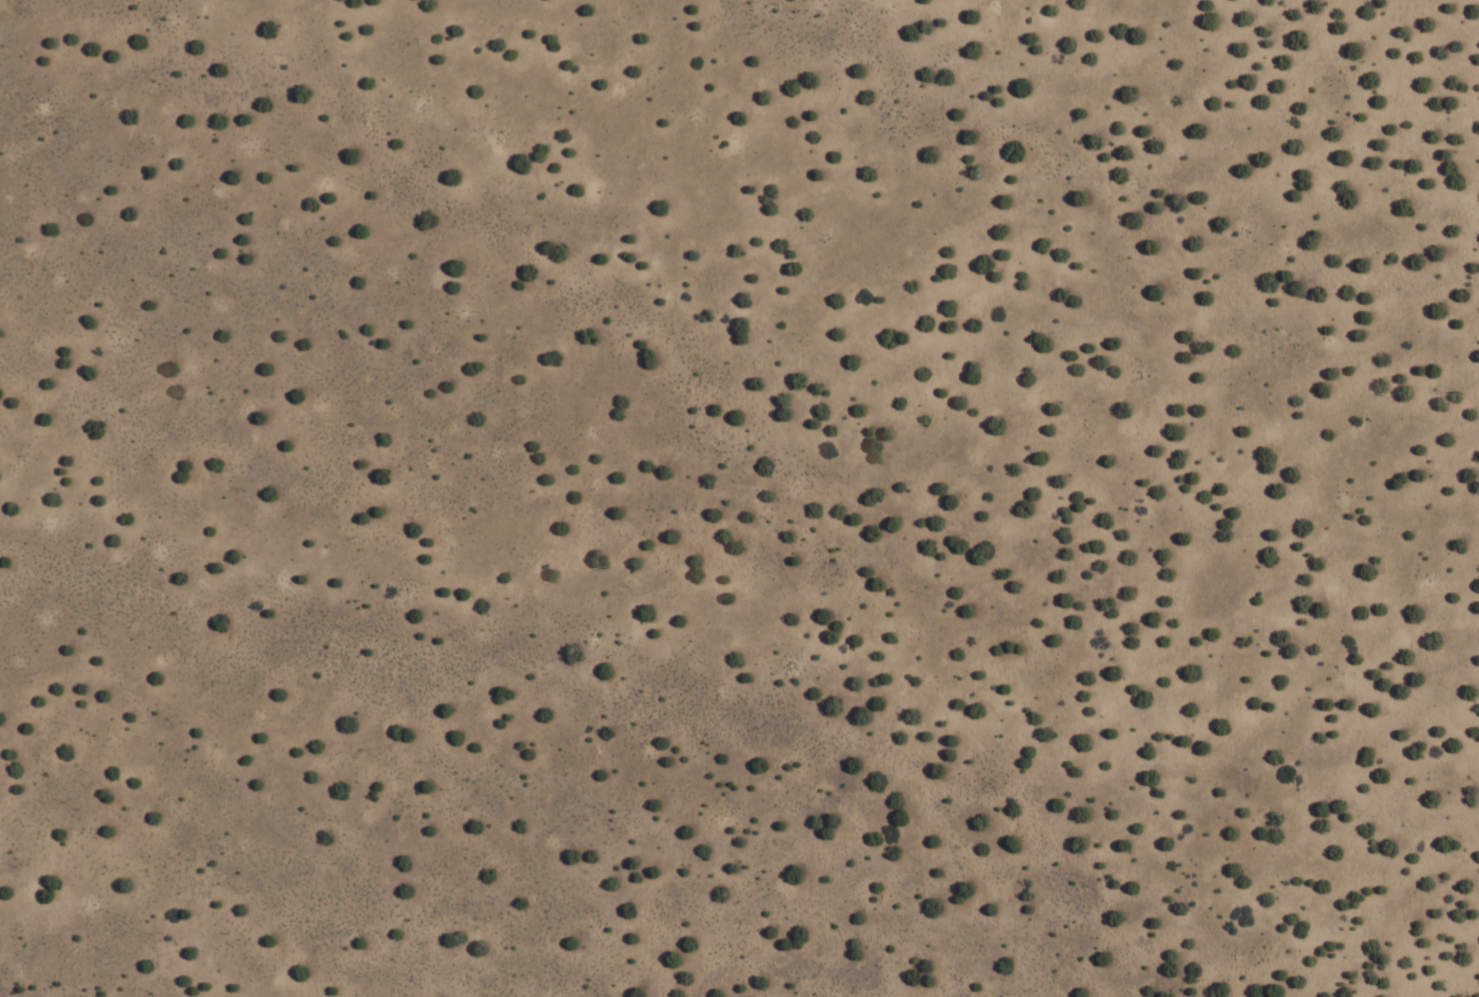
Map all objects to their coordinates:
road: (1478, 0)

